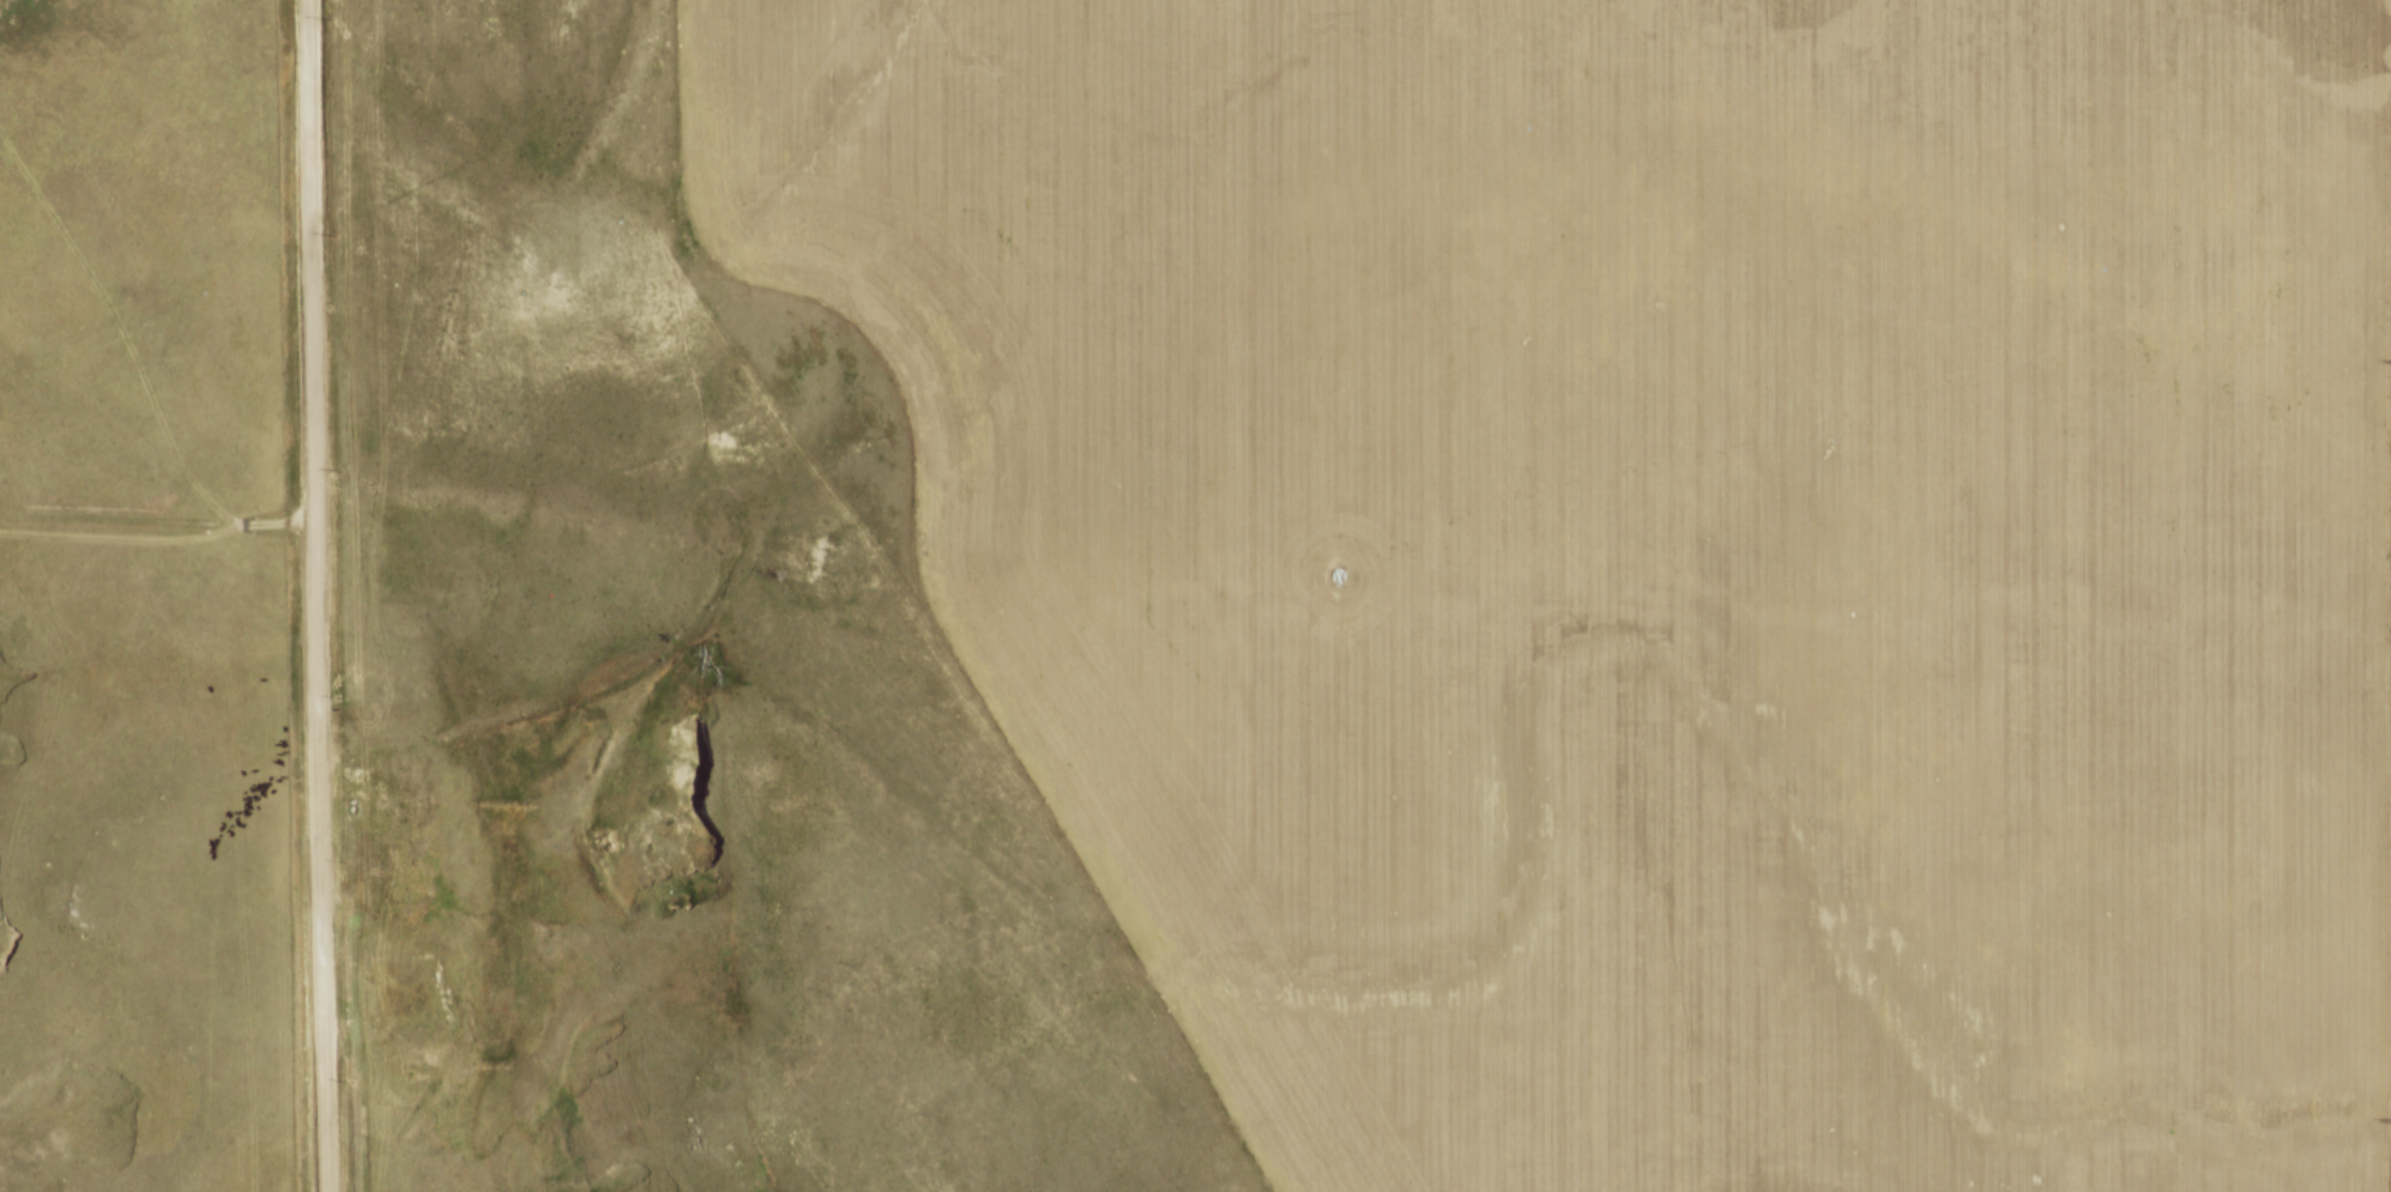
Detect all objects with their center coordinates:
crop: (1658, 552)
road: (314, 595)

